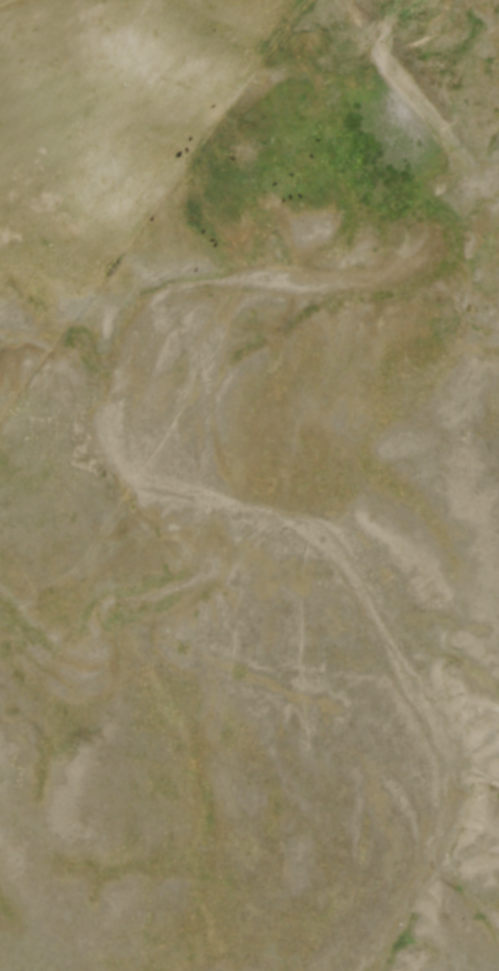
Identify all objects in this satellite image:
crop: (113, 111)

